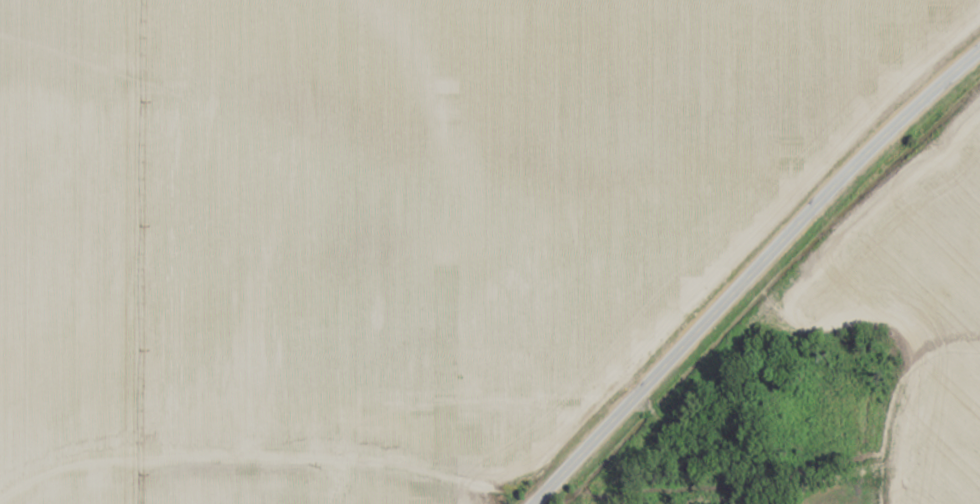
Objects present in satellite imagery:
road: (753, 270)
road: (956, 361)

